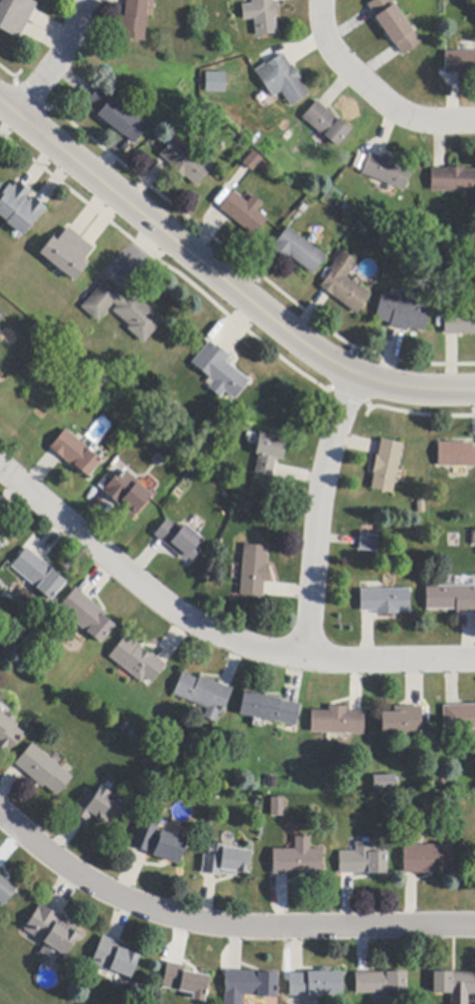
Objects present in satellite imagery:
building: (15, 15)
building: (265, 17)
building: (135, 20)
building: (395, 25)
road: (57, 63)
building: (460, 63)
building: (283, 80)
building: (214, 81)
road: (374, 90)
building: (118, 116)
building: (327, 124)
building: (253, 161)
building: (185, 163)
building: (387, 171)
building: (453, 180)
building: (19, 208)
building: (245, 213)
building: (298, 251)
building: (67, 253)
road: (223, 281)
building: (344, 284)
building: (124, 310)
building: (402, 313)
building: (459, 323)
building: (219, 371)
building: (76, 454)
building: (269, 454)
building: (456, 455)
building: (386, 466)
building: (127, 493)
road: (318, 517)
building: (0, 526)
building: (473, 538)
building: (179, 540)
building: (369, 543)
building: (1, 545)
building: (254, 571)
building: (38, 574)
building: (451, 599)
building: (385, 601)
building: (87, 616)
road: (210, 631)
building: (137, 661)
building: (203, 695)
building: (269, 709)
building: (458, 717)
building: (402, 721)
building: (338, 722)
building: (8, 733)
building: (43, 770)
building: (382, 782)
building: (98, 807)
building: (278, 807)
building: (159, 842)
building: (299, 859)
building: (427, 859)
building: (225, 861)
building: (363, 861)
building: (0, 871)
building: (5, 891)
road: (222, 927)
building: (52, 933)
building: (115, 958)
building: (185, 981)
building: (381, 983)
building: (251, 984)
building: (317, 984)
building: (455, 986)

